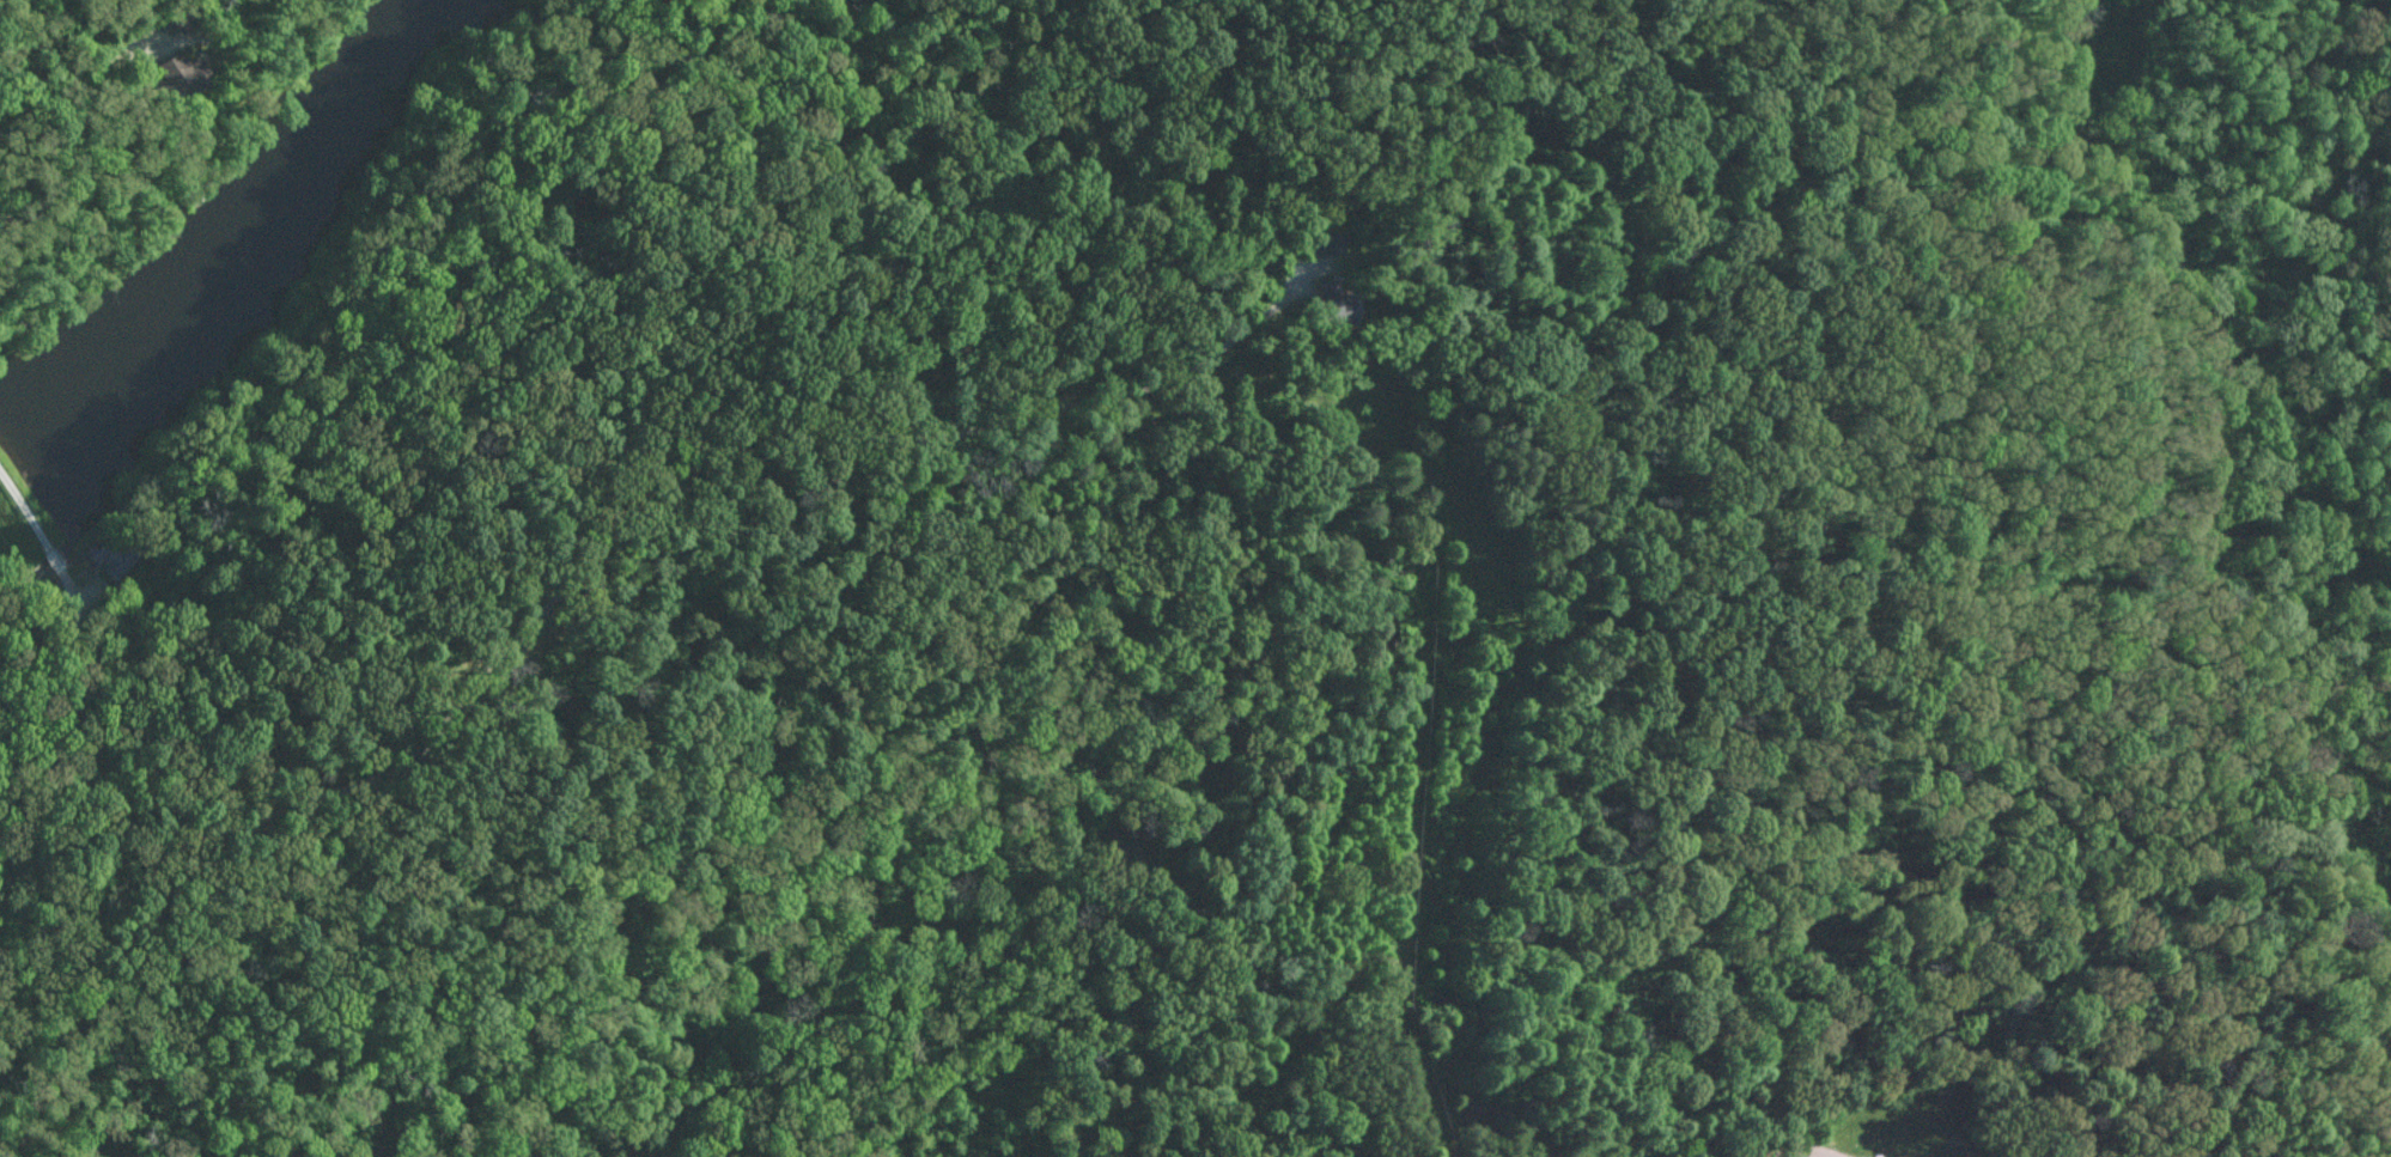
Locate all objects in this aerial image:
building: (185, 71)
road: (69, 75)
road: (1357, 133)
building: (1325, 239)
road: (530, 631)

